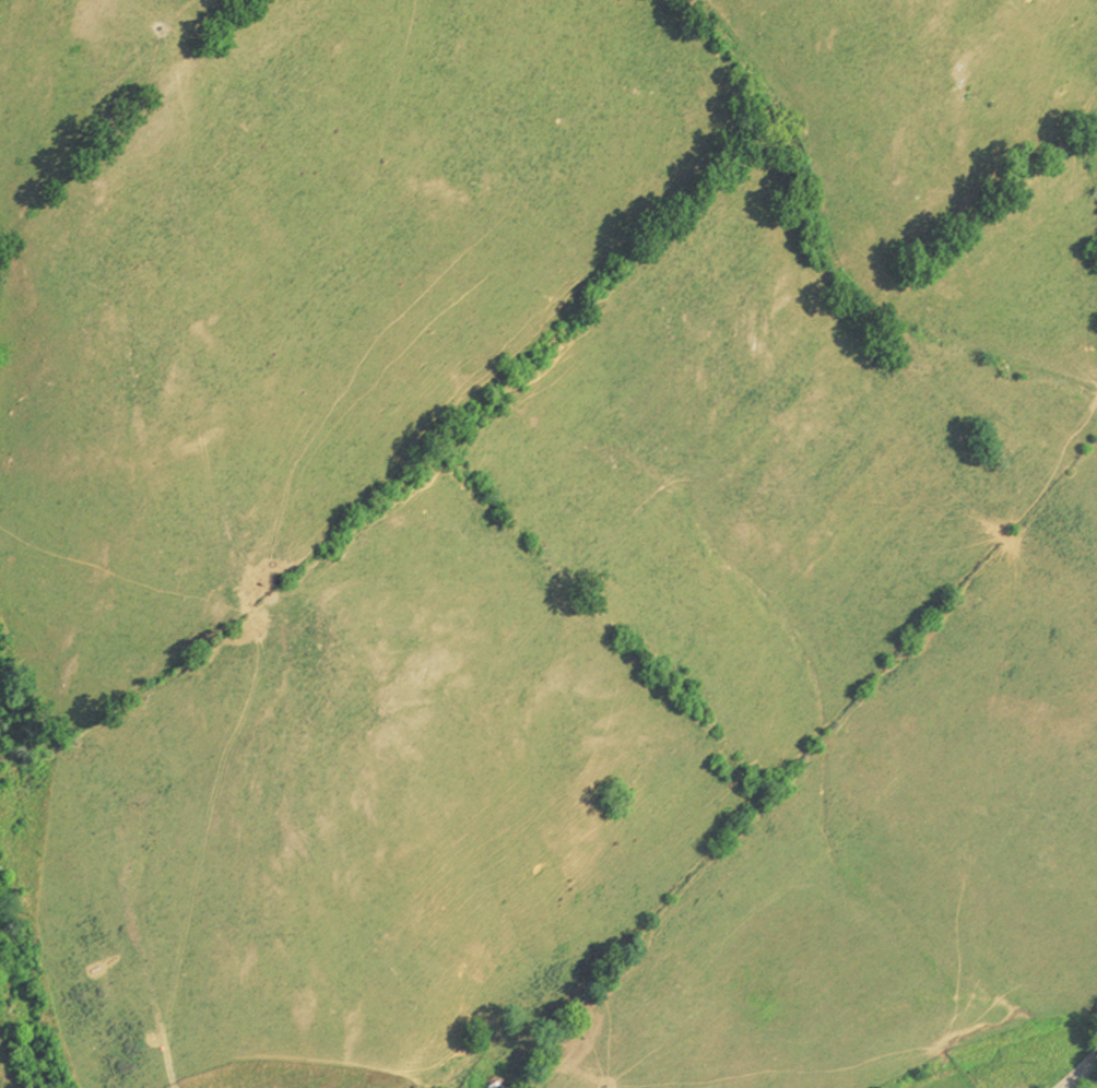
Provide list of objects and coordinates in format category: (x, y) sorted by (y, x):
crop: (553, 535)
road: (165, 1052)
road: (1078, 1068)
crop: (7, 1071)

